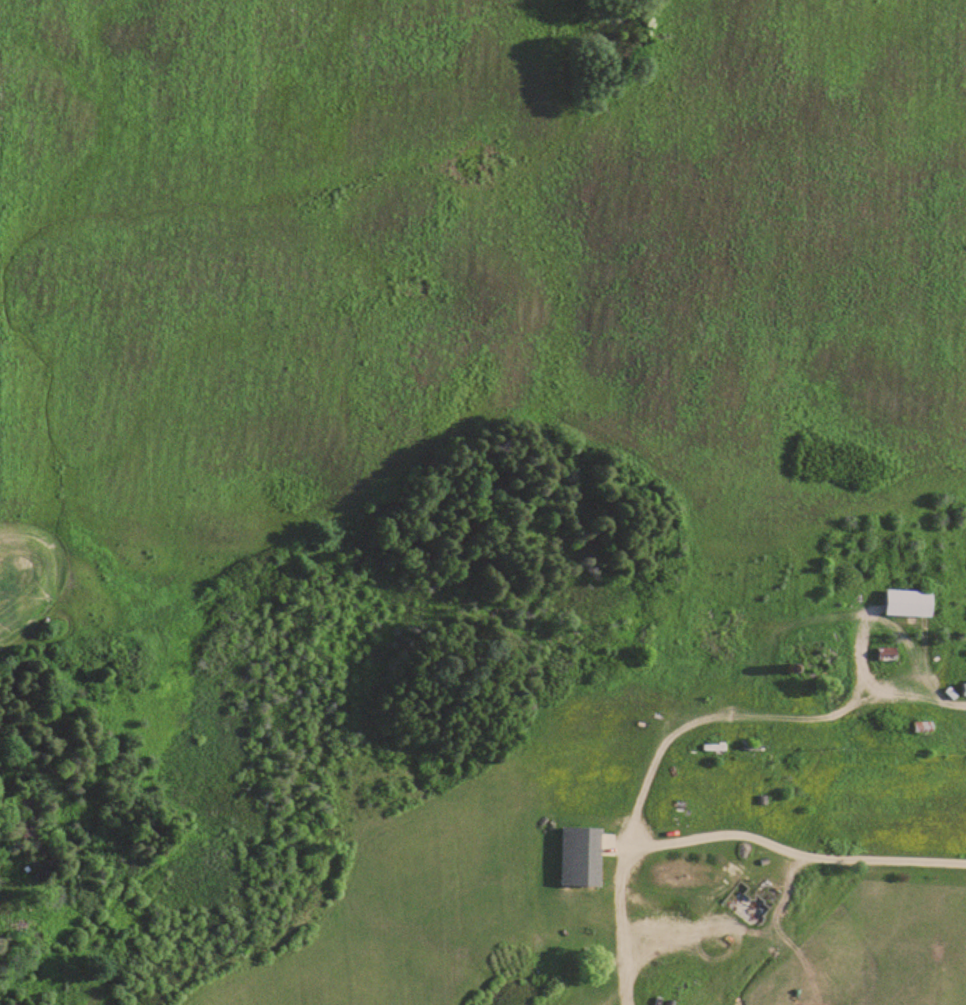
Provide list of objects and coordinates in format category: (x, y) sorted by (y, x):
building: (911, 603)
building: (818, 648)
building: (888, 654)
building: (964, 689)
building: (582, 857)
road: (797, 917)

